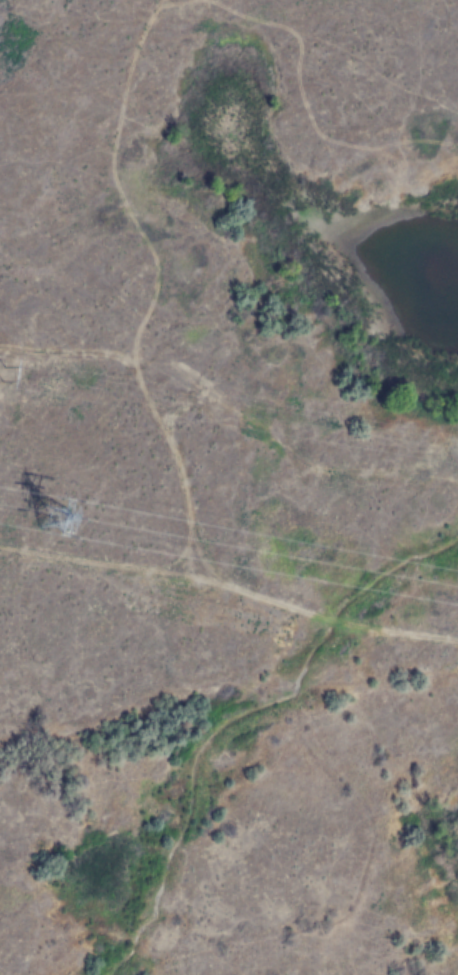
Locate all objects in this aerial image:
power tower: (39, 509)

